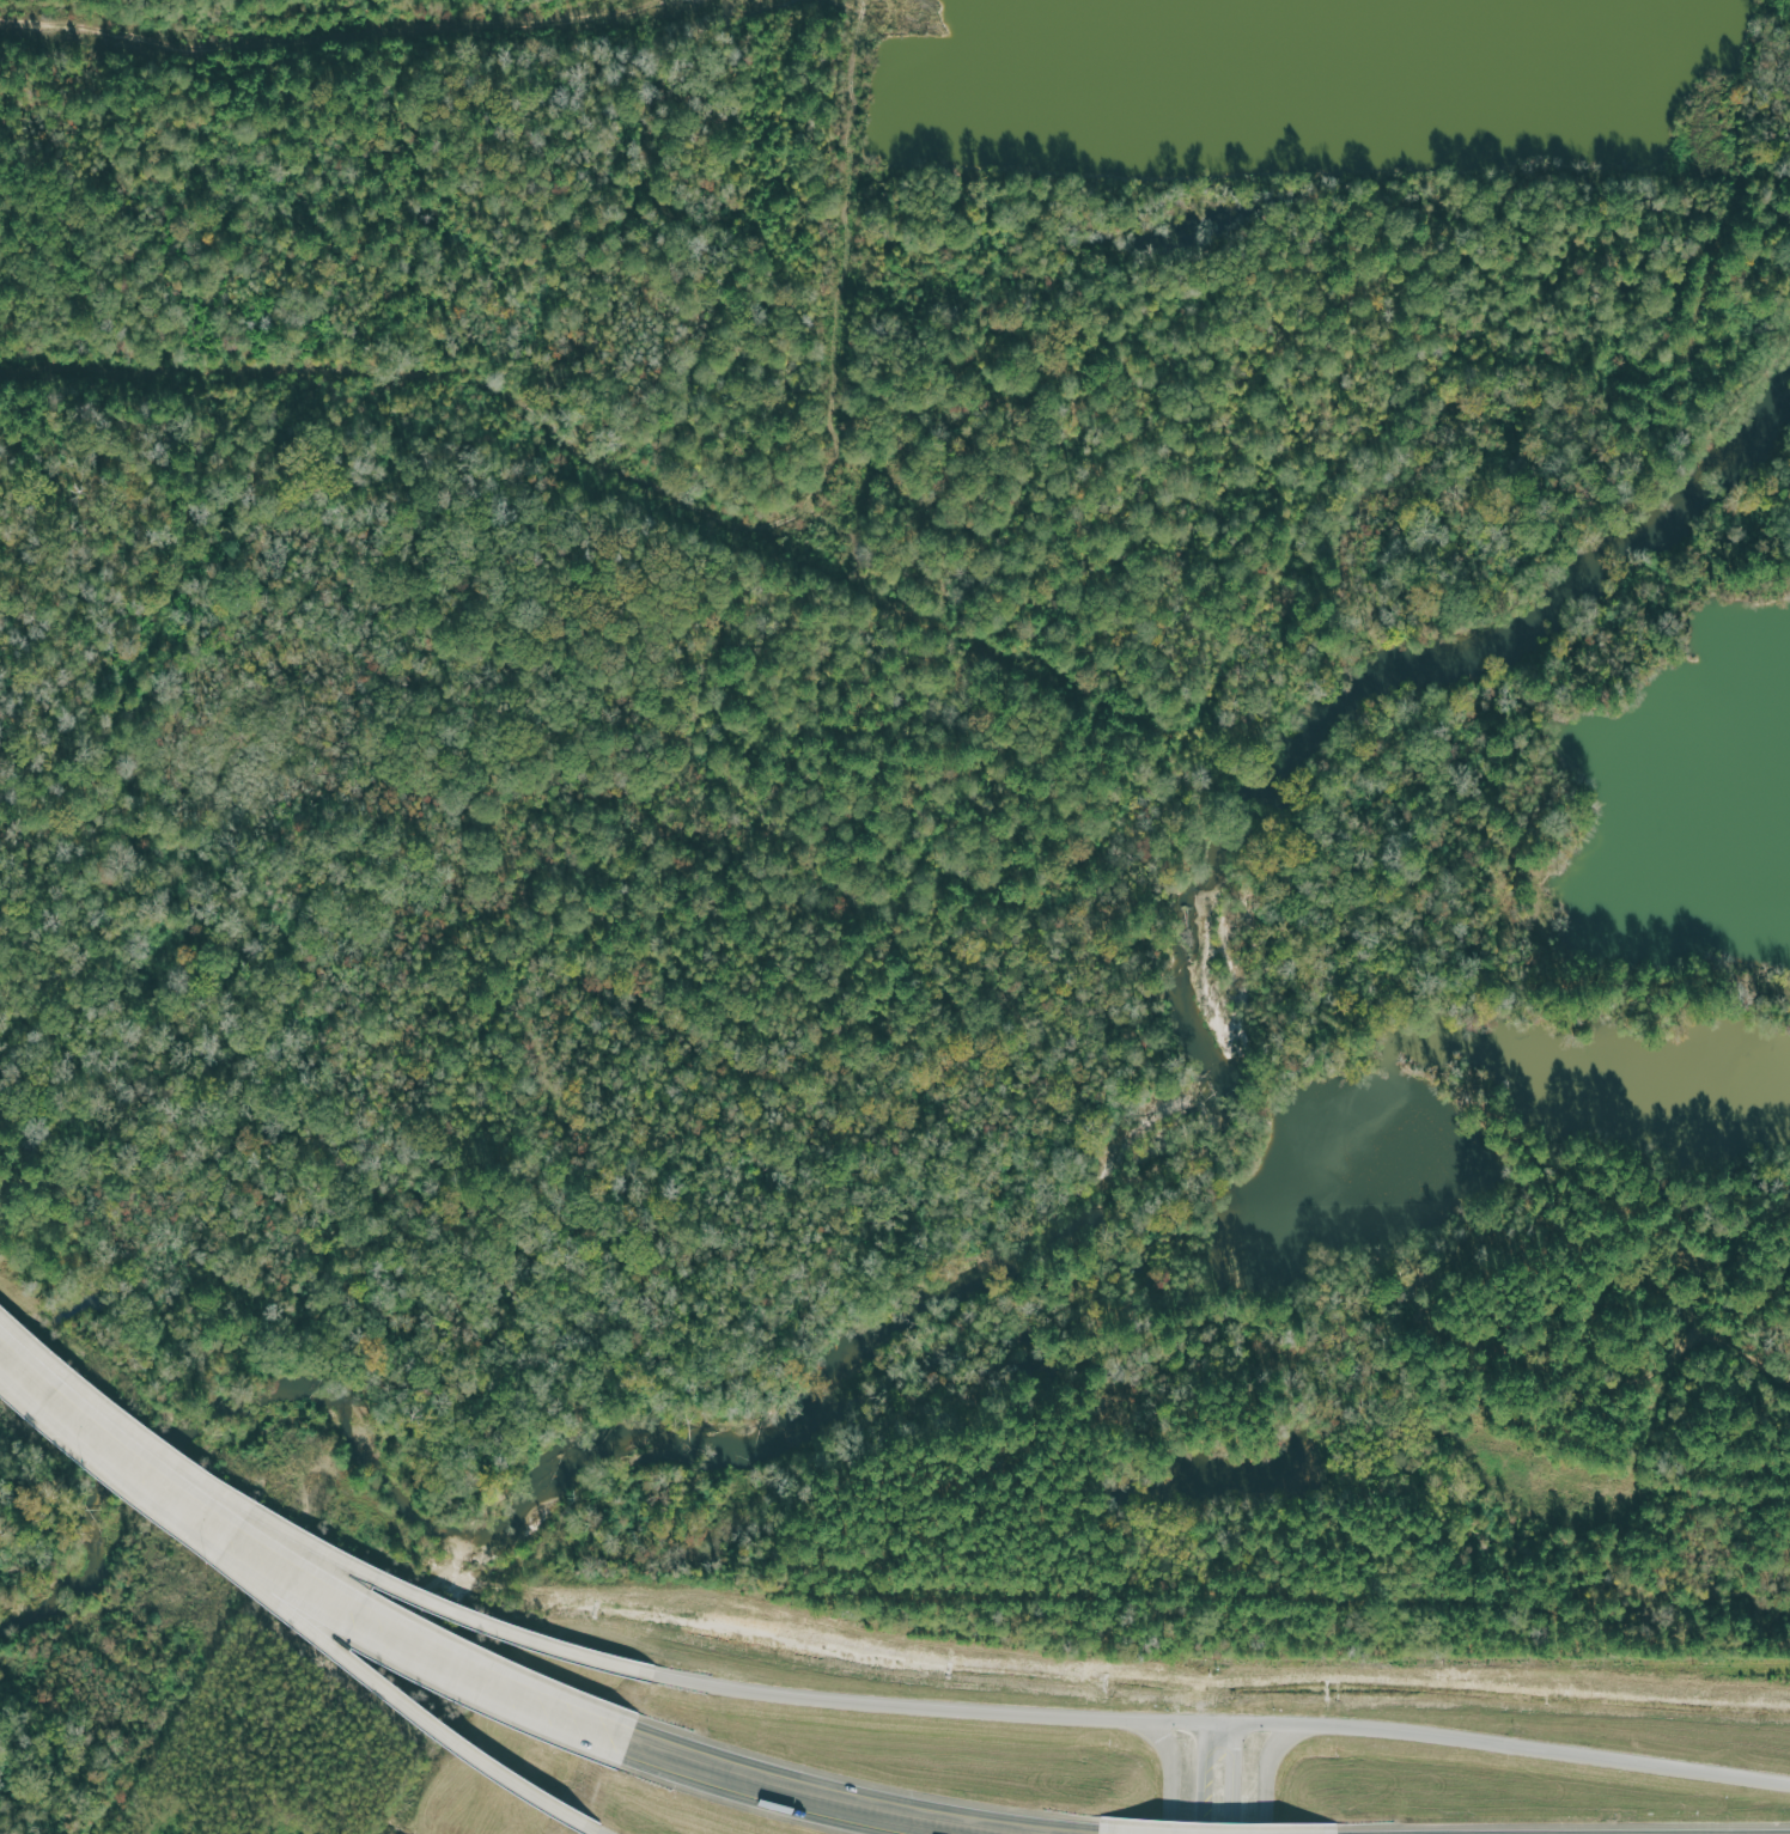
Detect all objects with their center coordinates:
river: (1031, 1273)
road: (55, 1391)
road: (366, 1572)
road: (353, 1602)
road: (334, 1649)
road: (1213, 1726)
road: (1176, 1773)
road: (1267, 1773)
road: (1210, 1779)
road: (1243, 1779)
road: (811, 1793)
road: (592, 1830)

